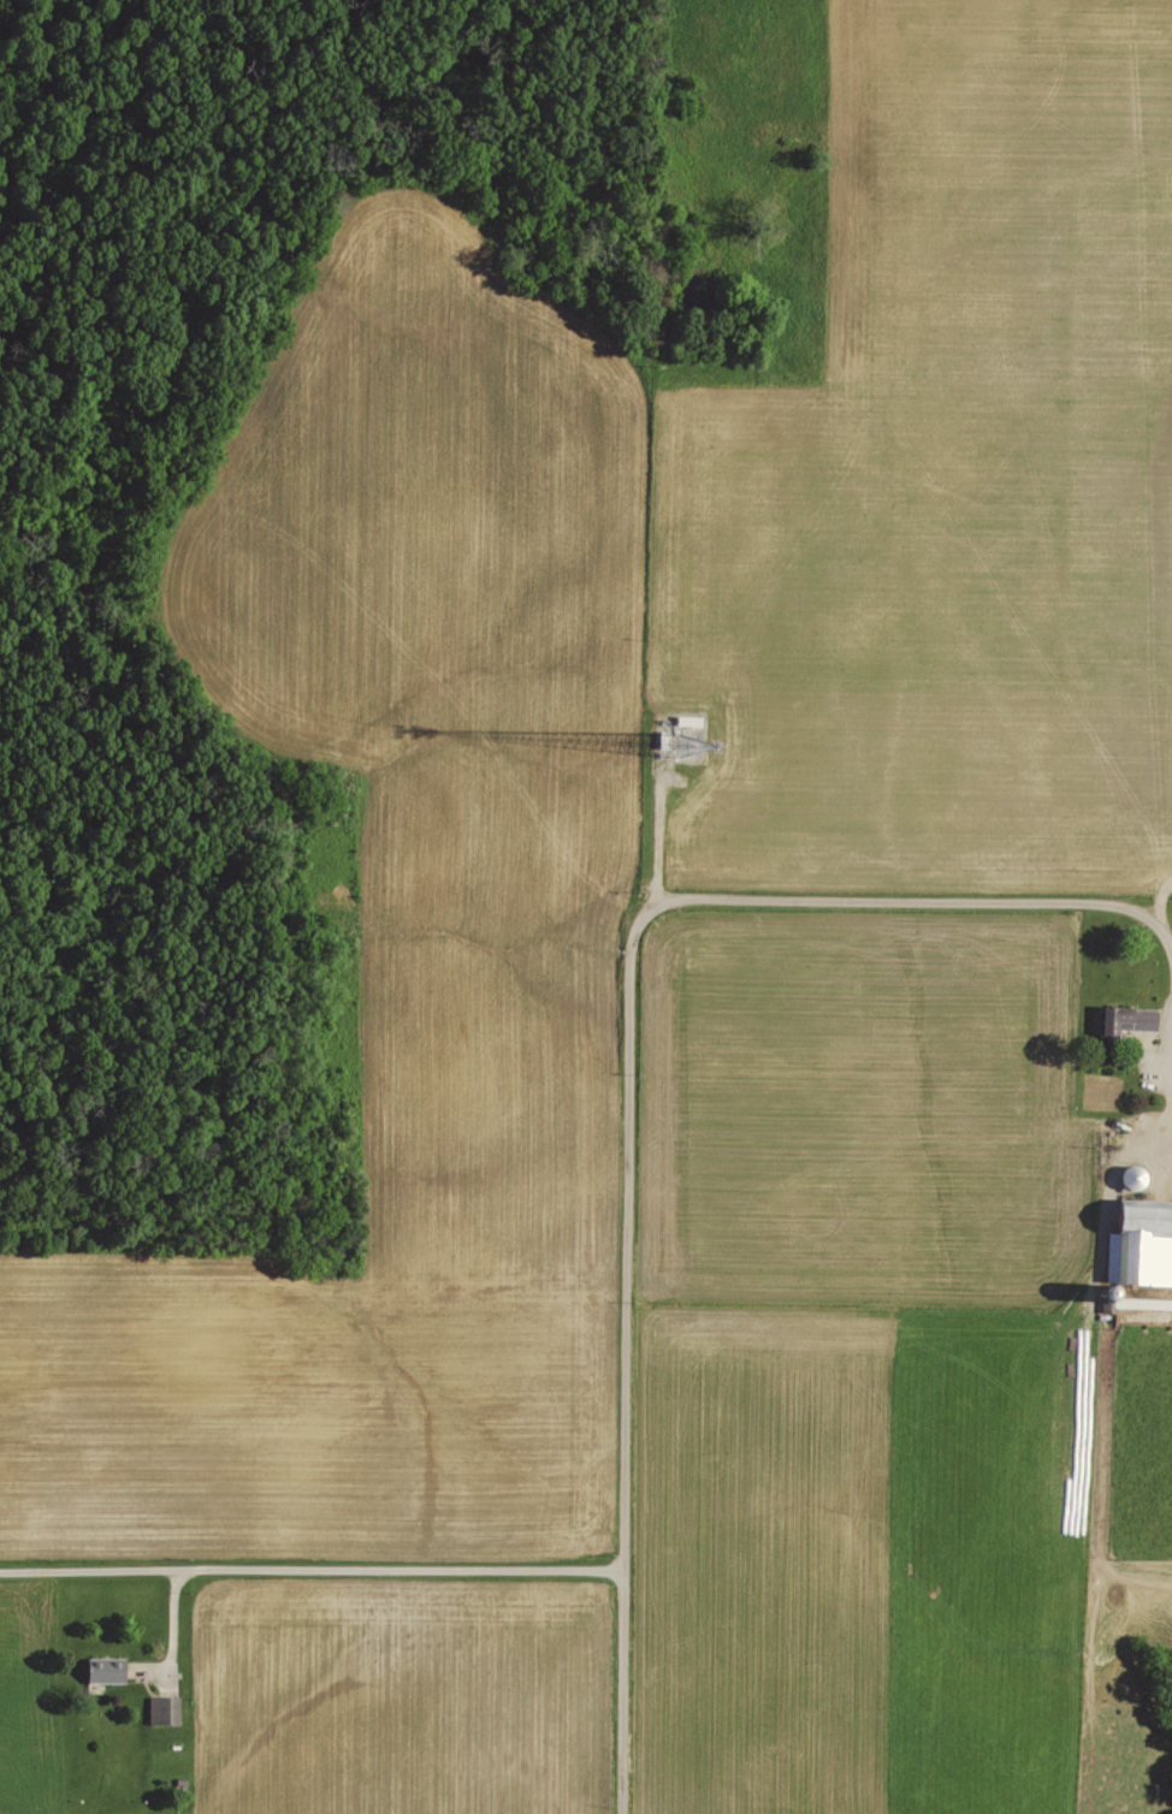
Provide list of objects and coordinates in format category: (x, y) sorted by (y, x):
building: (681, 734)
road: (881, 896)
road: (1161, 927)
building: (1135, 1022)
road: (1171, 1157)
building: (1137, 1174)
building: (1143, 1243)
road: (622, 1395)
road: (310, 1566)
road: (173, 1606)
building: (111, 1667)
building: (166, 1707)

